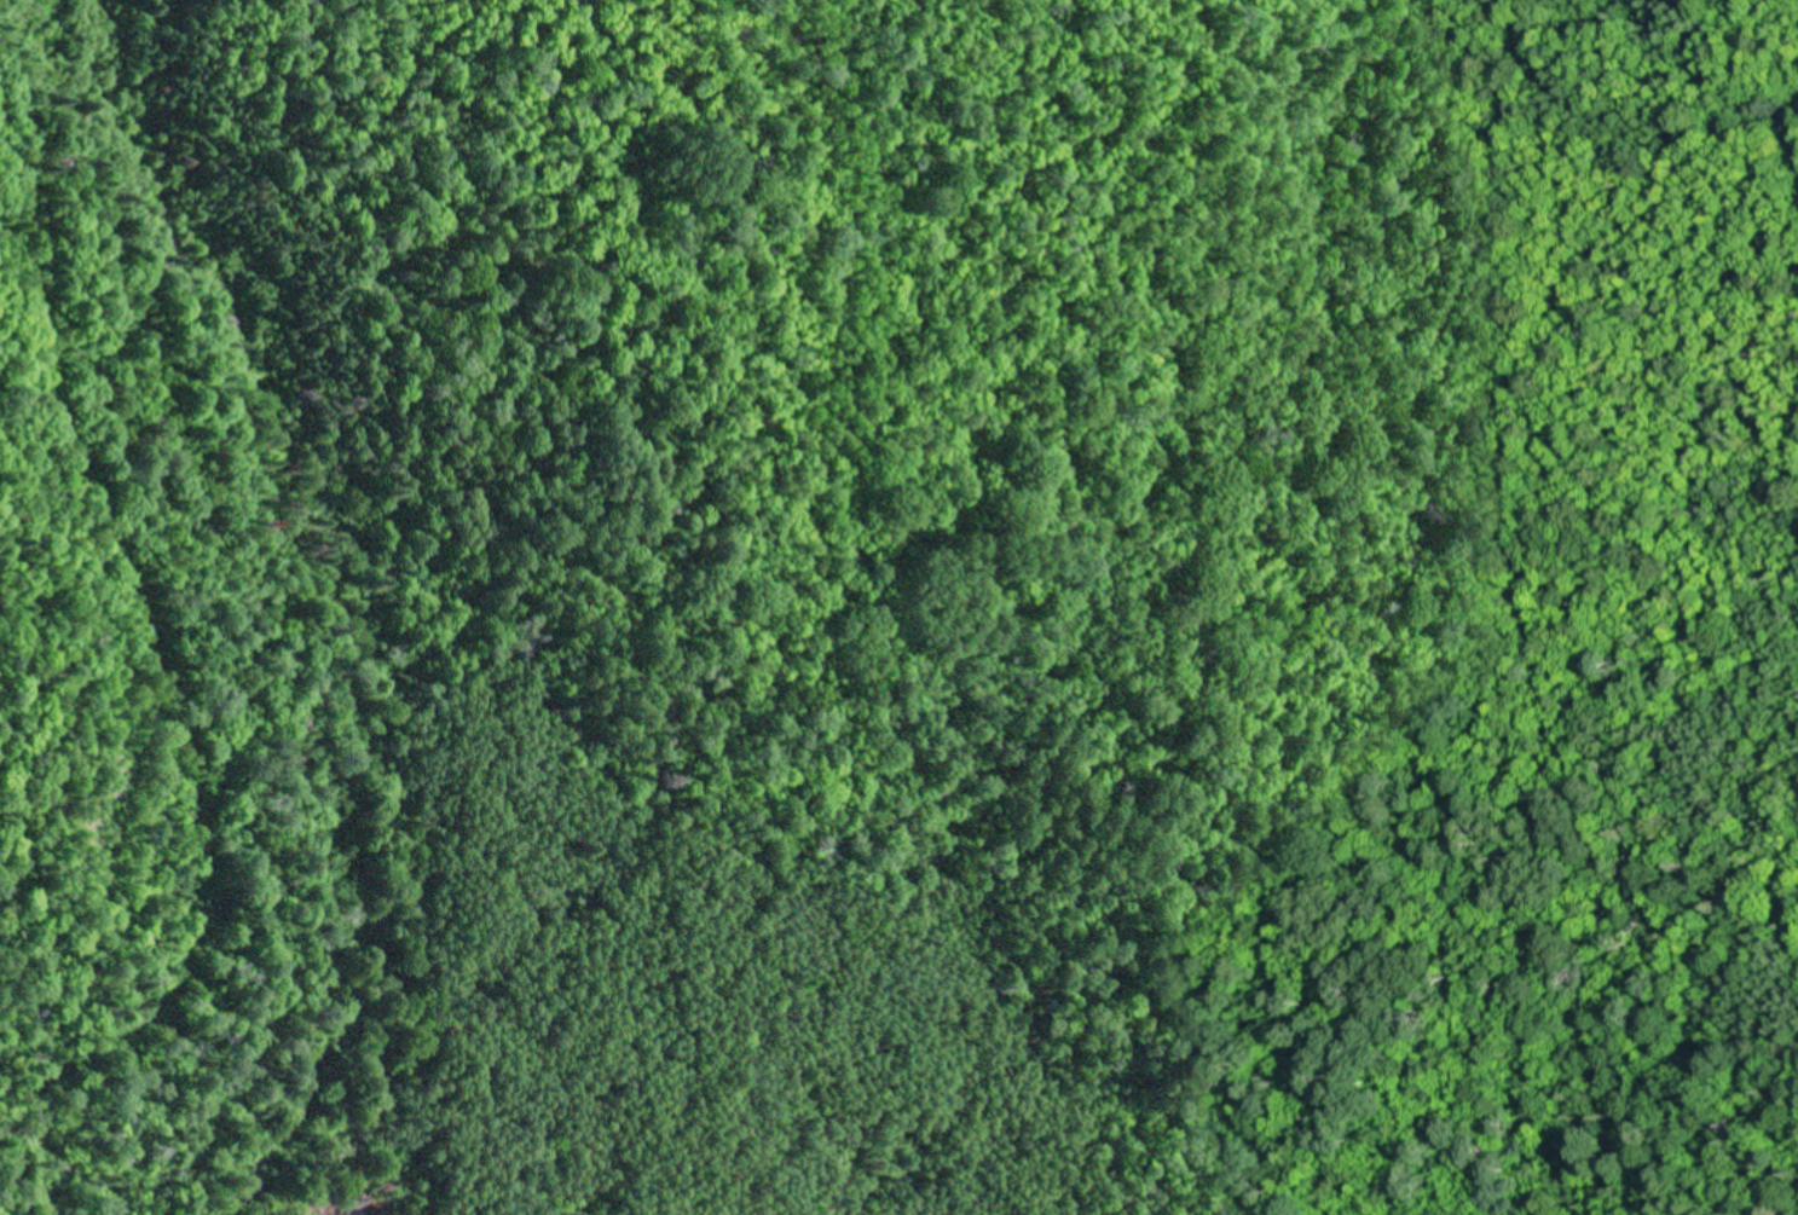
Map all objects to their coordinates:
road: (1517, 566)

